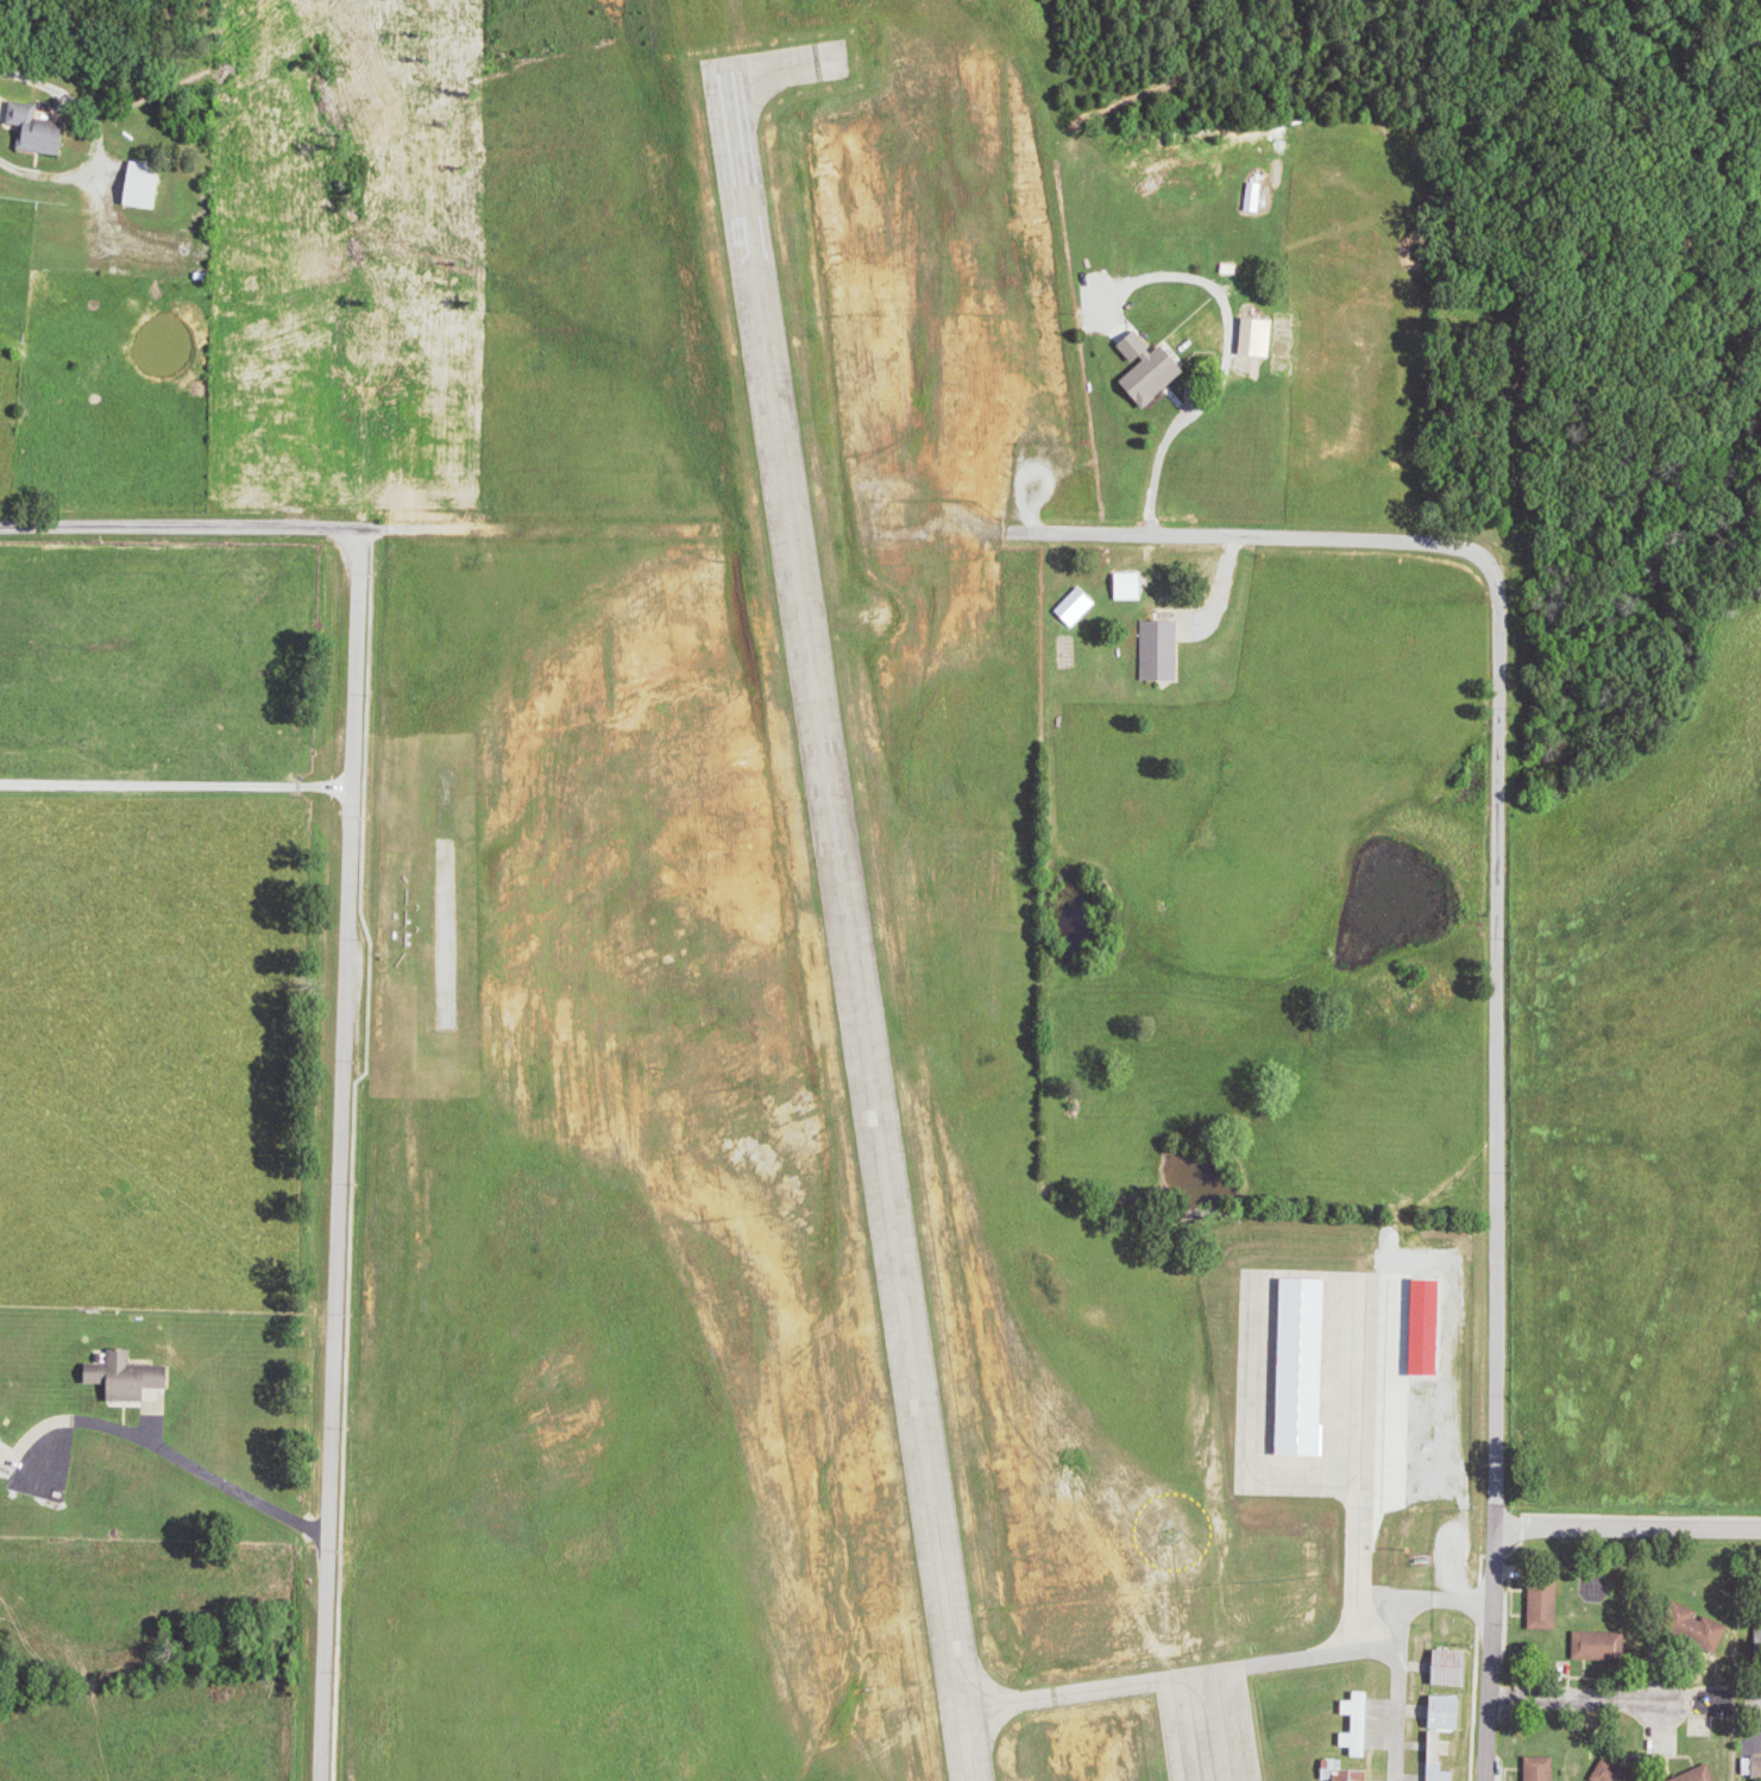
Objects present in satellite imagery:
building: (43, 130)
road: (46, 178)
building: (151, 184)
building: (1258, 196)
building: (1262, 338)
building: (1156, 369)
road: (1162, 442)
road: (1197, 536)
building: (1134, 580)
building: (1080, 605)
building: (1163, 649)
road: (175, 785)
airport runway: (849, 930)
road: (344, 978)
road: (1502, 1133)
building: (1432, 1327)
building: (1308, 1366)
building: (132, 1377)
building: (1, 1440)
road: (182, 1464)
road: (1630, 1525)
building: (1548, 1605)
building: (1710, 1631)
building: (1604, 1645)
building: (1760, 1655)
airport taxiway: (1176, 1681)
road: (1658, 1691)
road: (1573, 1697)
road: (1710, 1700)
building: (1716, 1712)
building: (1363, 1724)
airport apron: (1208, 1729)
building: (1442, 1757)
building: (1545, 1768)
building: (1755, 1769)
building: (1347, 1771)
building: (1616, 1773)
building: (1704, 1775)

